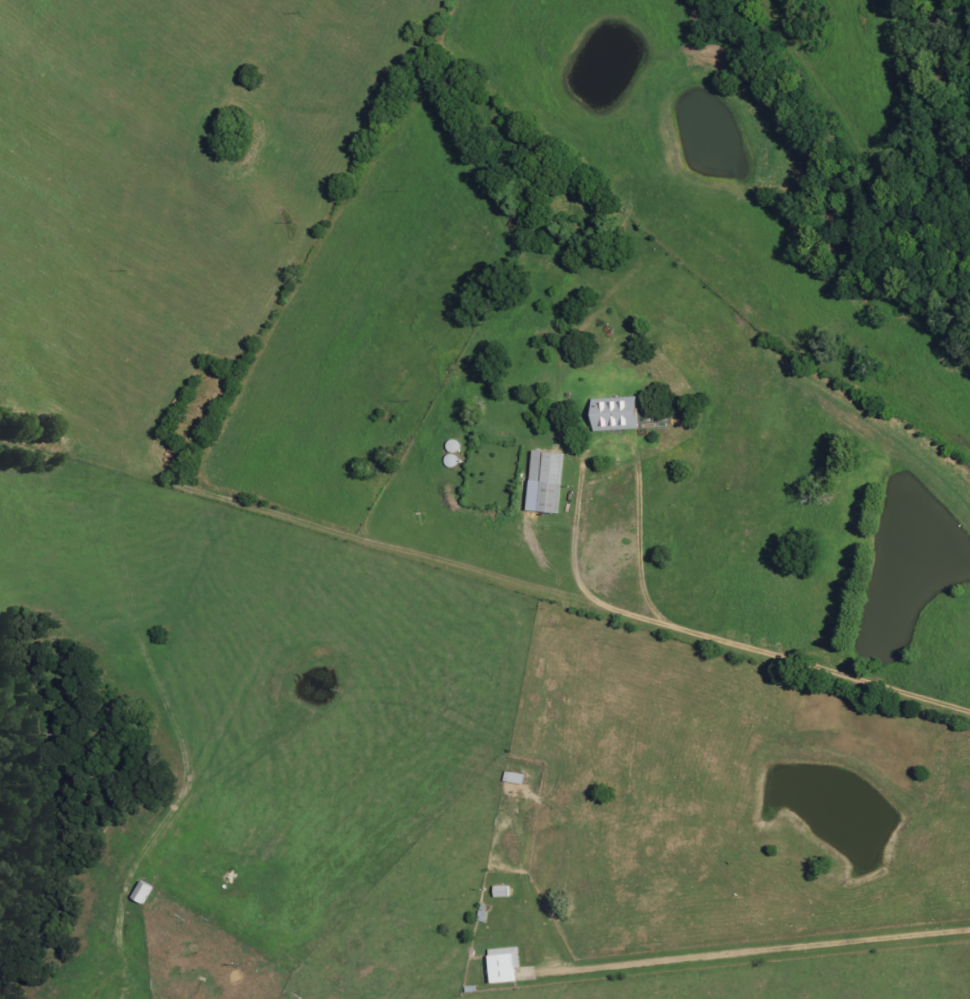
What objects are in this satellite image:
building: (610, 415)
building: (542, 482)
building: (504, 892)
building: (506, 965)

